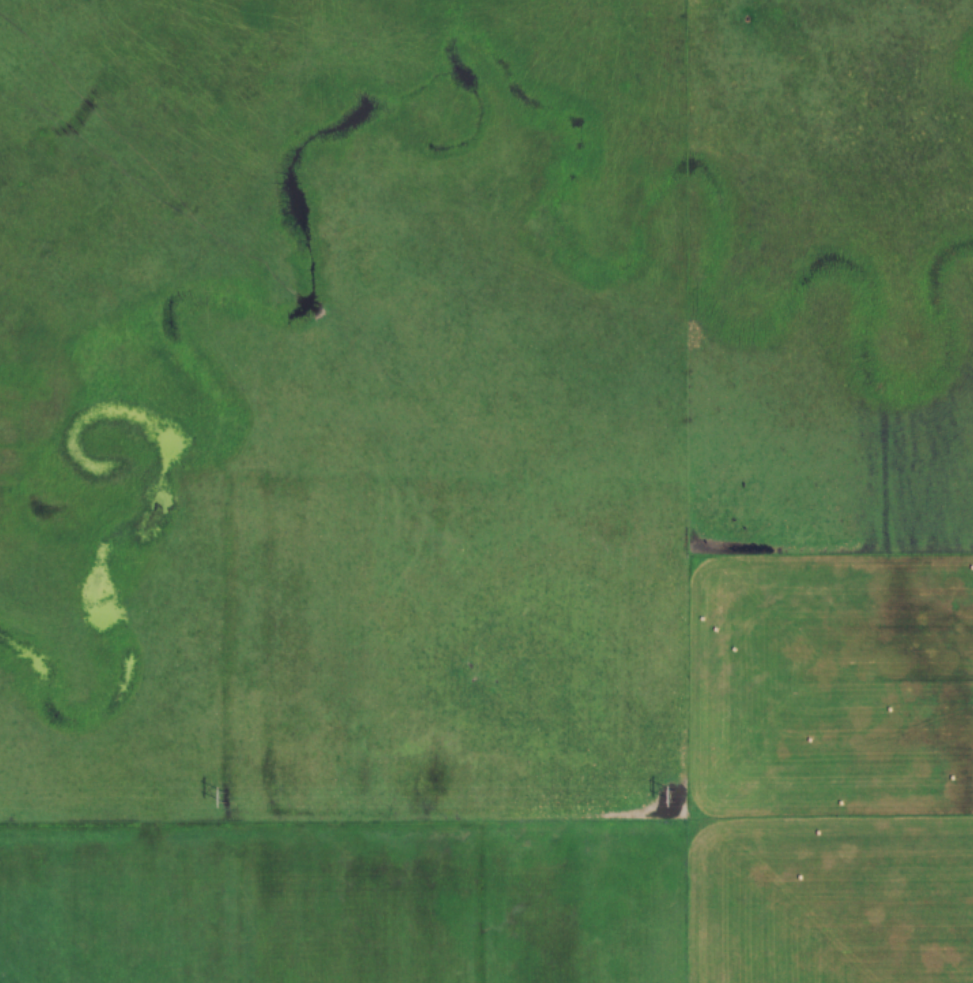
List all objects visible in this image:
power tower: (667, 797)
power tower: (223, 798)

